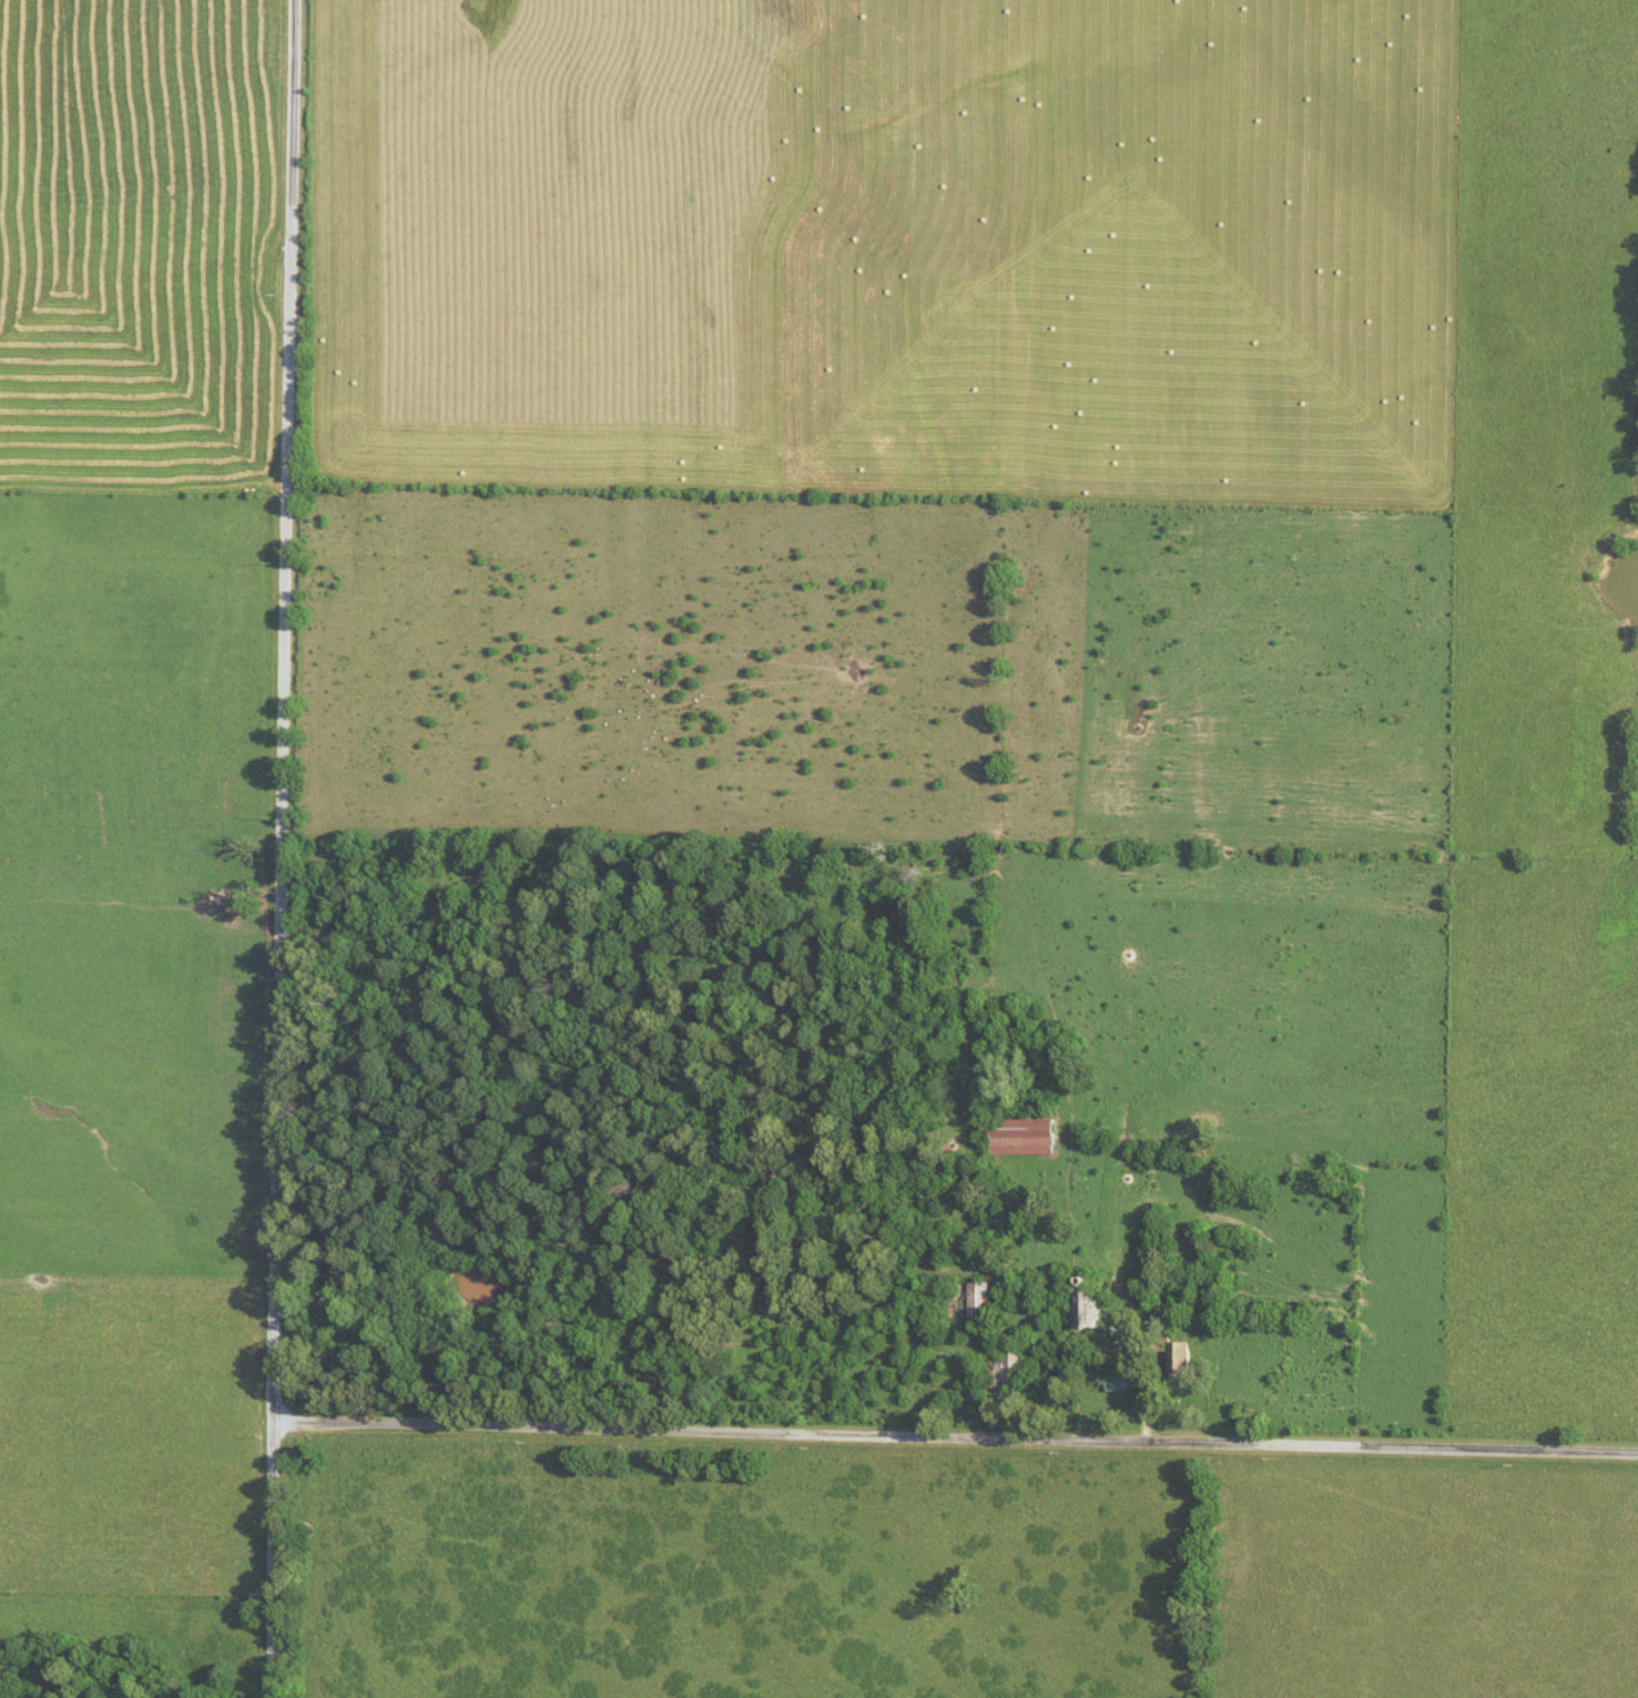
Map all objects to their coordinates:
road: (285, 848)
building: (1026, 1137)
building: (981, 1299)
building: (1093, 1305)
building: (1184, 1356)
building: (1120, 1382)
road: (957, 1436)

